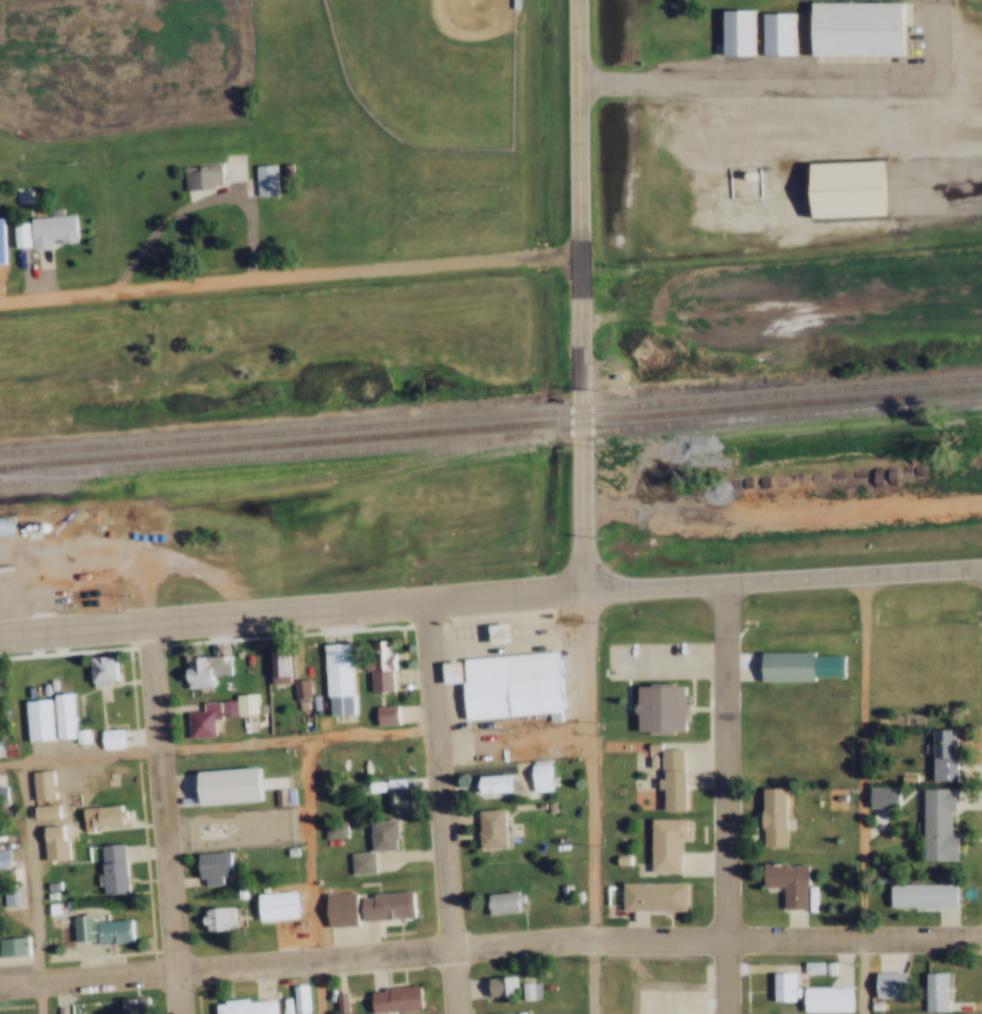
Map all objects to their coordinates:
building: (854, 31)
building: (734, 34)
building: (775, 36)
park: (421, 67)
road: (775, 83)
storage tank: (741, 174)
building: (196, 175)
building: (261, 180)
building: (846, 192)
building: (49, 231)
building: (18, 236)
building: (0, 253)
road: (291, 272)
road: (584, 295)
road: (783, 308)
building: (611, 377)
railway: (491, 414)
railway: (491, 426)
railway: (281, 479)
building: (2, 526)
silo: (2, 526)
road: (490, 597)
building: (497, 635)
building: (375, 665)
building: (275, 666)
building: (796, 668)
building: (100, 670)
building: (198, 671)
building: (448, 674)
building: (334, 679)
building: (509, 686)
building: (303, 688)
building: (296, 691)
building: (241, 704)
building: (658, 711)
building: (381, 715)
building: (60, 717)
building: (204, 717)
building: (36, 721)
building: (77, 736)
building: (107, 739)
road: (219, 745)
building: (649, 748)
building: (0, 753)
building: (400, 756)
building: (938, 757)
building: (646, 762)
building: (536, 775)
building: (669, 780)
building: (389, 783)
building: (371, 785)
building: (491, 785)
building: (39, 786)
building: (226, 787)
building: (274, 794)
building: (284, 794)
road: (866, 795)
building: (879, 795)
building: (0, 798)
road: (729, 799)
building: (394, 800)
road: (596, 801)
road: (445, 808)
building: (42, 812)
building: (98, 817)
building: (770, 819)
road: (165, 820)
building: (934, 827)
building: (488, 828)
building: (212, 829)
building: (330, 829)
building: (380, 835)
building: (51, 843)
building: (663, 845)
building: (286, 850)
building: (2, 860)
building: (618, 860)
building: (357, 863)
building: (210, 868)
building: (108, 870)
road: (312, 876)
building: (784, 883)
building: (47, 884)
road: (36, 887)
building: (235, 893)
building: (561, 893)
building: (47, 894)
building: (8, 896)
building: (919, 896)
building: (651, 897)
building: (61, 903)
building: (500, 903)
building: (272, 905)
building: (384, 906)
building: (48, 908)
building: (335, 909)
building: (213, 918)
building: (97, 931)
building: (10, 946)
road: (490, 948)
building: (809, 967)
building: (823, 967)
building: (496, 986)
building: (886, 986)
building: (780, 988)
building: (522, 991)
building: (930, 992)
building: (295, 998)
building: (303, 998)
building: (822, 999)
building: (393, 1000)
building: (337, 1003)
building: (129, 1005)
building: (242, 1007)
building: (513, 1012)
building: (504, 1013)
building: (913, 1013)

